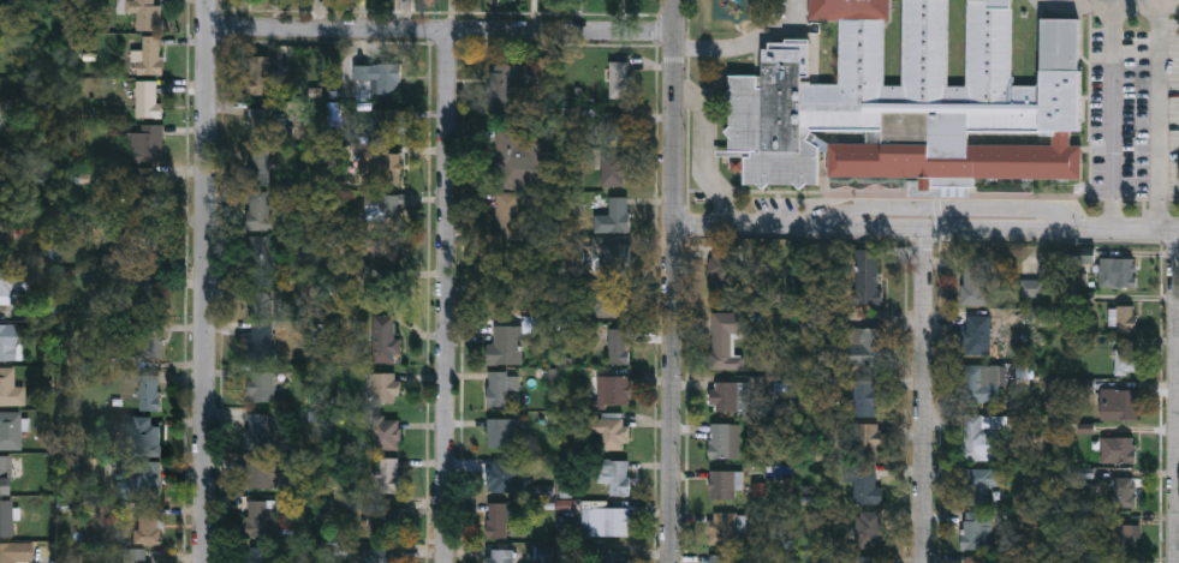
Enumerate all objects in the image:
building: (1036, 4)
road: (1135, 4)
road: (1112, 7)
building: (145, 13)
road: (436, 29)
road: (749, 44)
building: (147, 56)
building: (260, 73)
building: (377, 77)
building: (614, 78)
building: (510, 85)
building: (147, 98)
building: (916, 102)
road: (1113, 119)
road: (1159, 119)
building: (263, 120)
building: (389, 122)
building: (618, 125)
building: (145, 143)
road: (703, 156)
building: (519, 158)
building: (257, 164)
building: (383, 167)
building: (617, 168)
building: (258, 209)
building: (377, 209)
road: (935, 209)
building: (620, 212)
building: (510, 218)
road: (925, 228)
building: (262, 250)
building: (617, 257)
building: (722, 263)
building: (1117, 271)
building: (867, 275)
building: (973, 277)
road: (195, 281)
road: (672, 281)
building: (13, 285)
building: (263, 295)
road: (445, 295)
building: (608, 303)
building: (150, 317)
building: (1125, 317)
building: (977, 334)
building: (385, 337)
building: (726, 339)
building: (7, 340)
building: (261, 340)
building: (507, 343)
building: (619, 345)
building: (861, 345)
building: (1125, 359)
building: (979, 382)
building: (263, 384)
building: (383, 388)
building: (498, 388)
building: (11, 389)
building: (613, 389)
building: (150, 391)
building: (725, 395)
road: (921, 395)
road: (1178, 396)
building: (865, 397)
building: (1118, 402)
building: (256, 430)
building: (386, 430)
building: (613, 430)
building: (11, 431)
building: (500, 431)
building: (977, 435)
building: (144, 436)
building: (867, 438)
building: (724, 439)
building: (1118, 448)
building: (263, 471)
building: (386, 473)
building: (5, 475)
building: (500, 475)
building: (615, 475)
building: (141, 480)
building: (978, 481)
building: (724, 484)
building: (865, 484)
building: (1123, 490)
building: (260, 514)
building: (6, 517)
building: (386, 517)
building: (496, 519)
building: (609, 520)
building: (147, 523)
building: (722, 527)
building: (869, 528)
building: (977, 528)
building: (1123, 535)
building: (16, 552)
building: (261, 553)
building: (382, 555)
building: (500, 555)
building: (135, 556)
building: (617, 556)
building: (719, 558)
building: (868, 558)
building: (975, 559)

